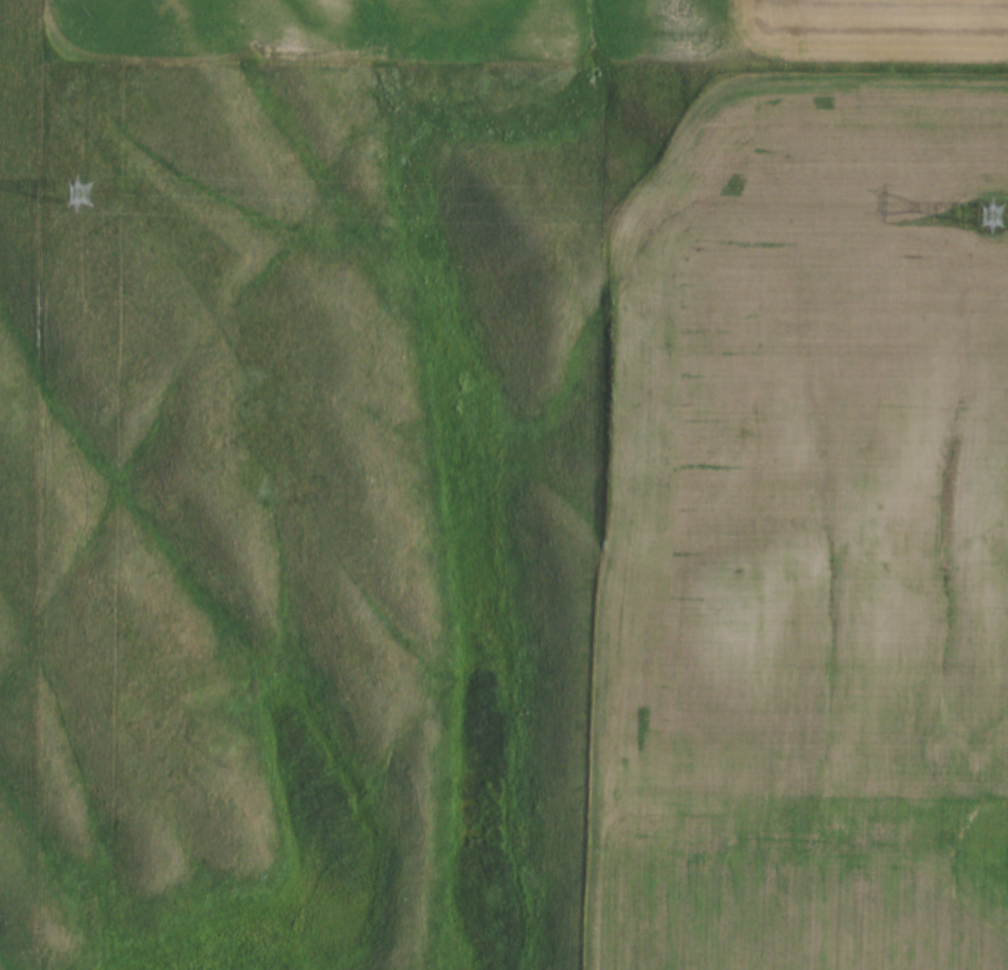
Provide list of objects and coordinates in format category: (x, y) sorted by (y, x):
power tower: (80, 194)
power tower: (992, 216)

